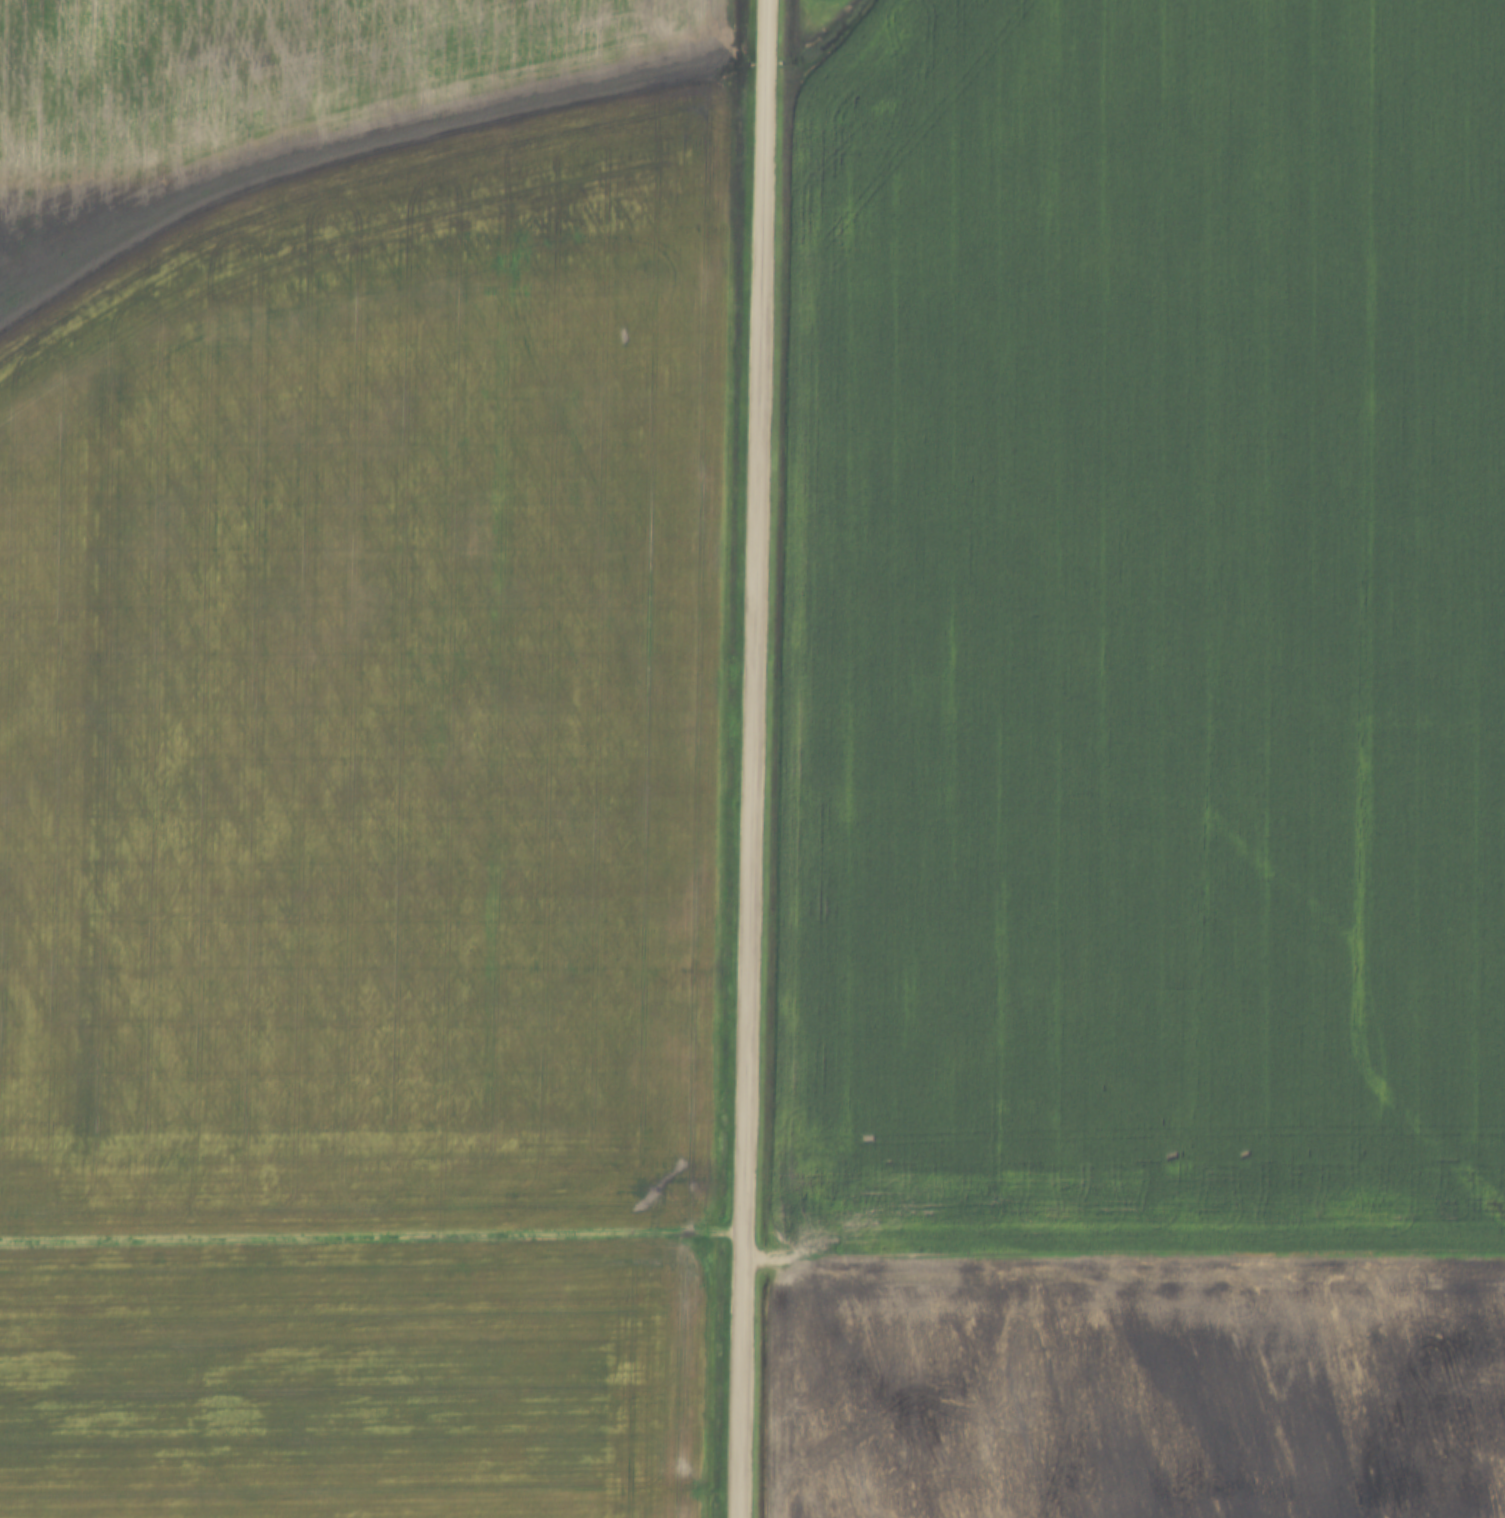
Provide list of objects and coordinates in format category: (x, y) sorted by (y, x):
crop: (362, 615)
crop: (1145, 629)
road: (751, 759)
crop: (355, 1381)
crop: (1137, 1391)

